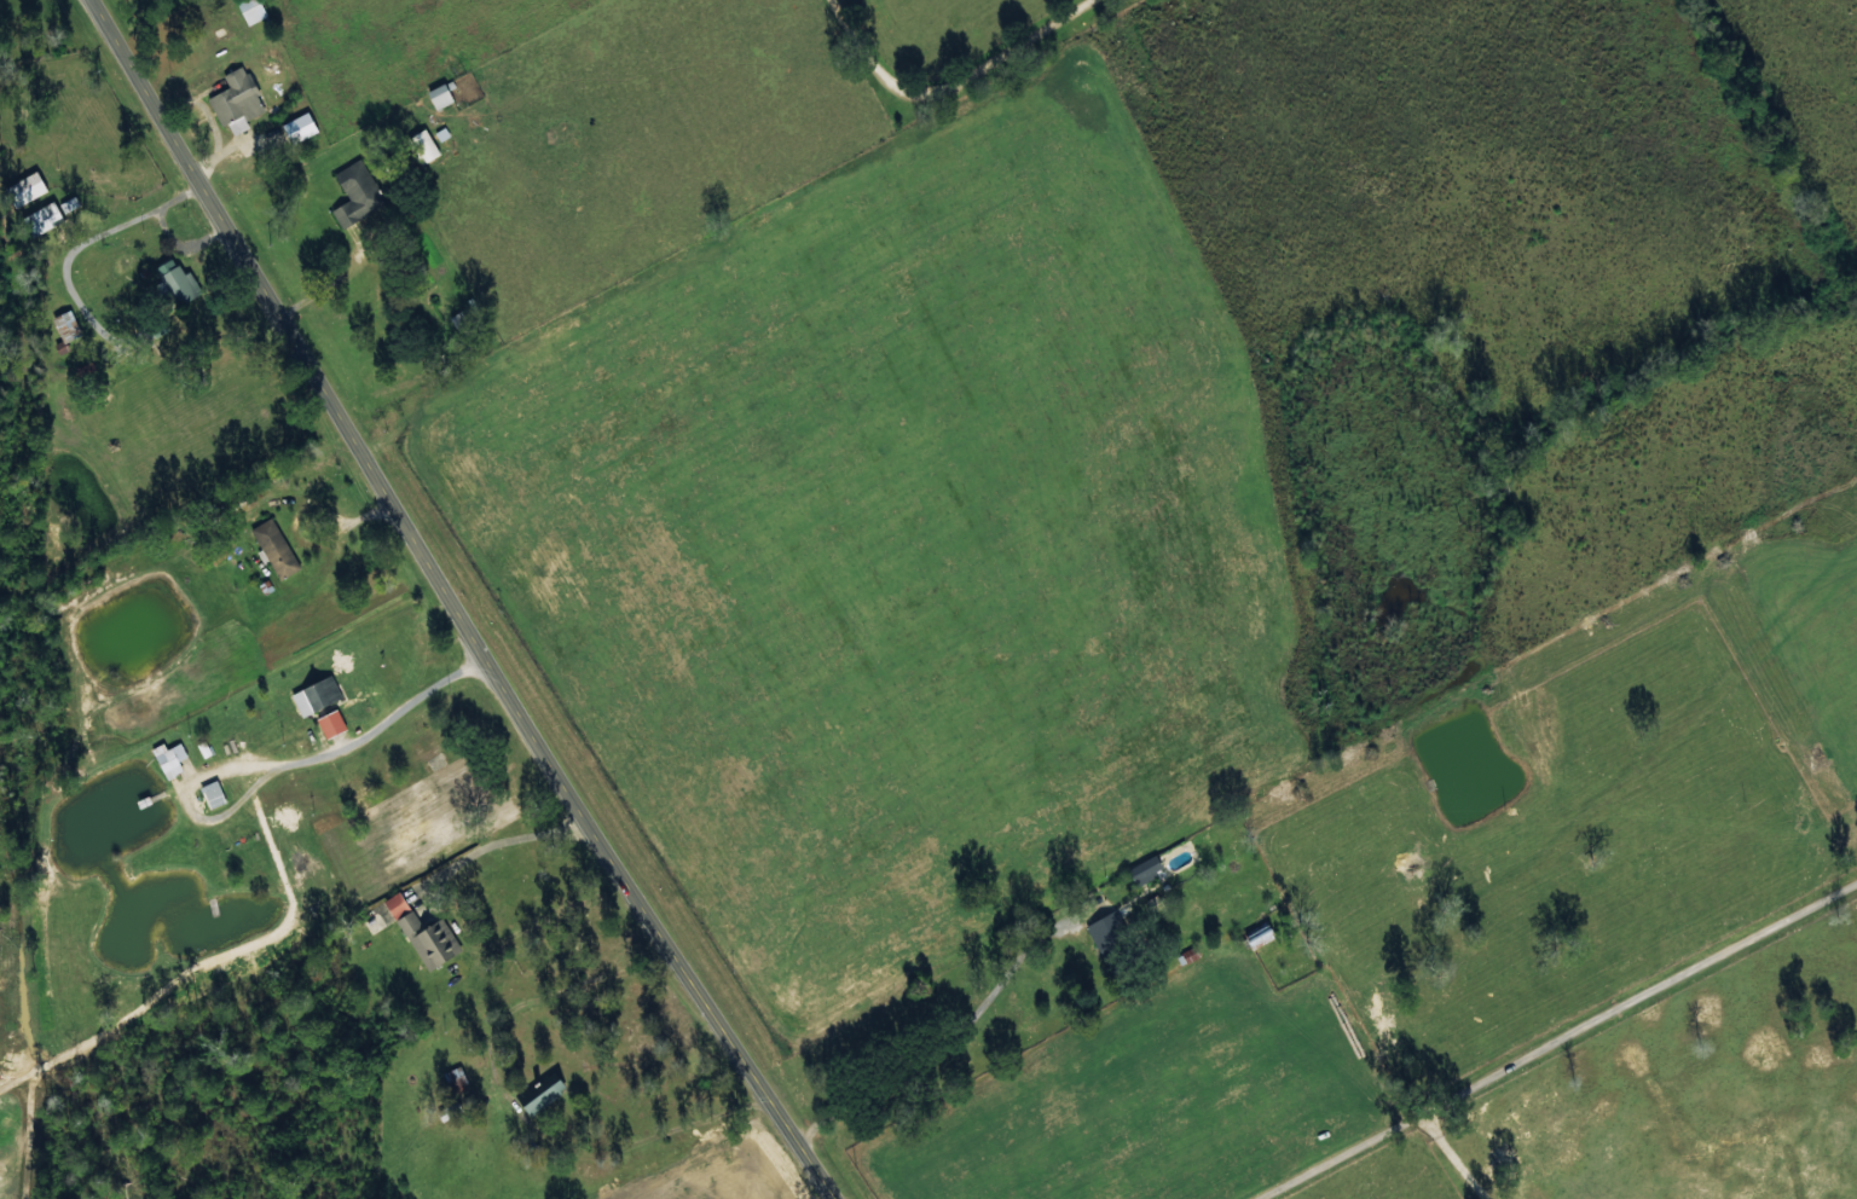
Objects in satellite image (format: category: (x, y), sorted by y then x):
building: (250, 10)
road: (1231, 66)
building: (439, 95)
building: (236, 100)
building: (299, 127)
building: (440, 134)
building: (422, 145)
building: (355, 193)
building: (68, 204)
building: (42, 218)
building: (175, 283)
building: (65, 325)
building: (274, 548)
road: (452, 603)
building: (316, 695)
building: (330, 723)
building: (202, 749)
building: (168, 757)
building: (1145, 868)
building: (1106, 928)
building: (421, 932)
building: (540, 1091)

